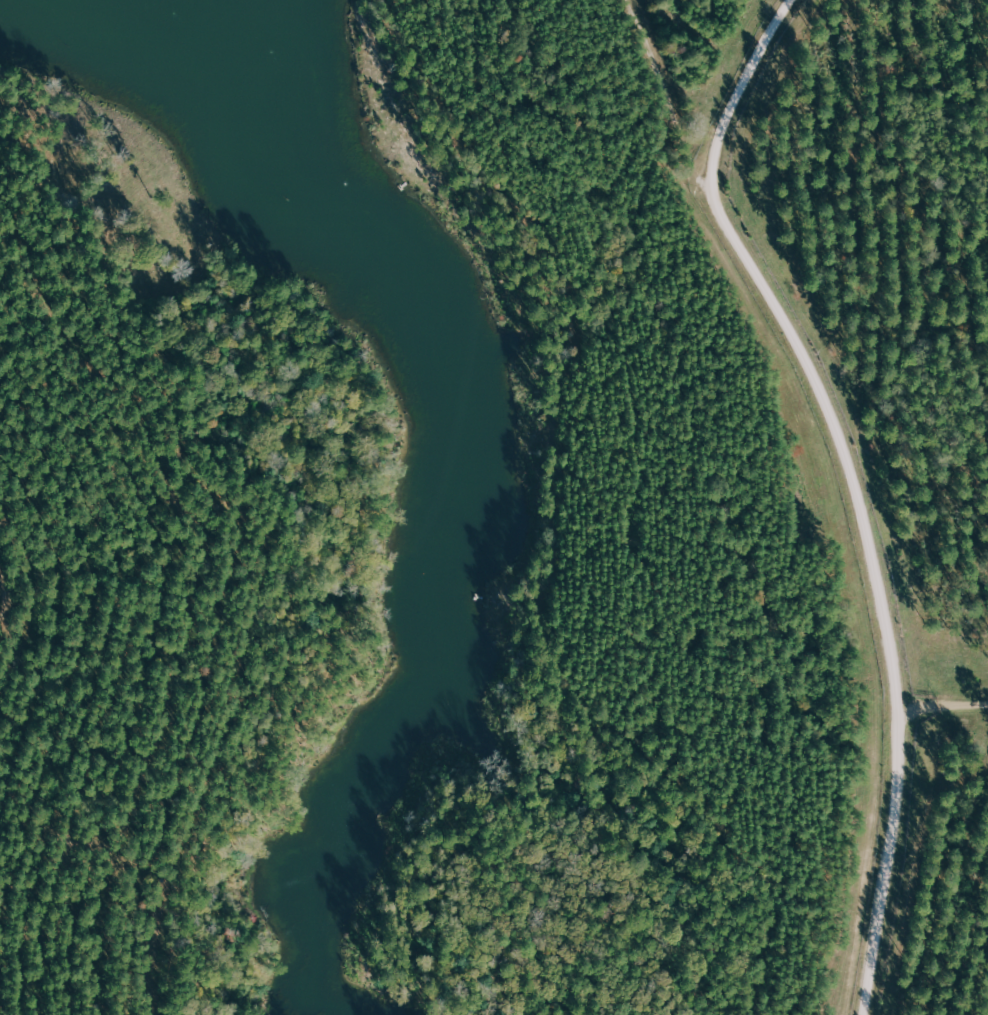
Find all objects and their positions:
road: (706, 182)
road: (899, 577)
road: (955, 702)

